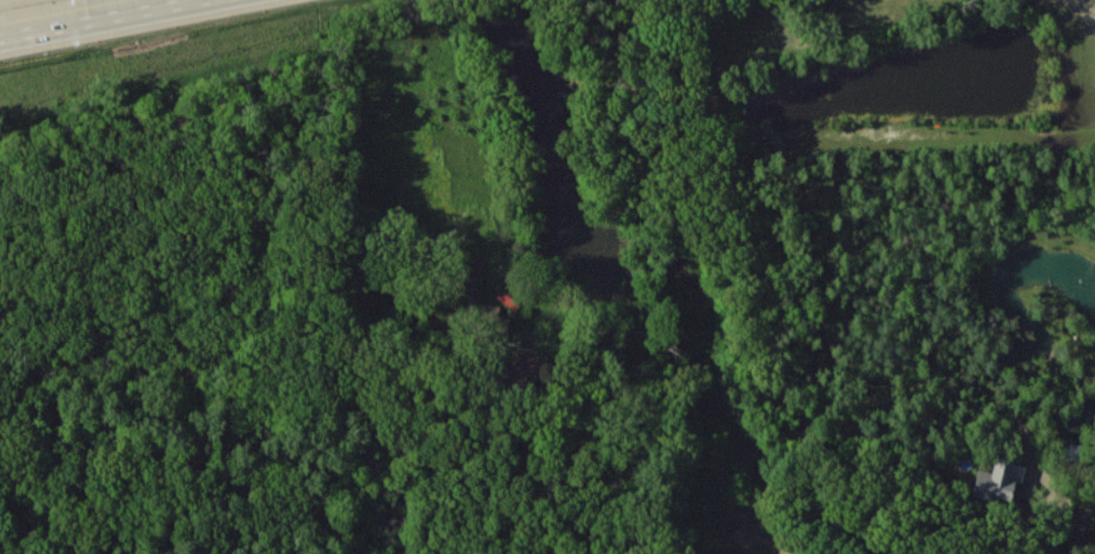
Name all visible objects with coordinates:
road: (99, 18)
building: (471, 275)
road: (496, 478)
building: (997, 480)
road: (1061, 511)

